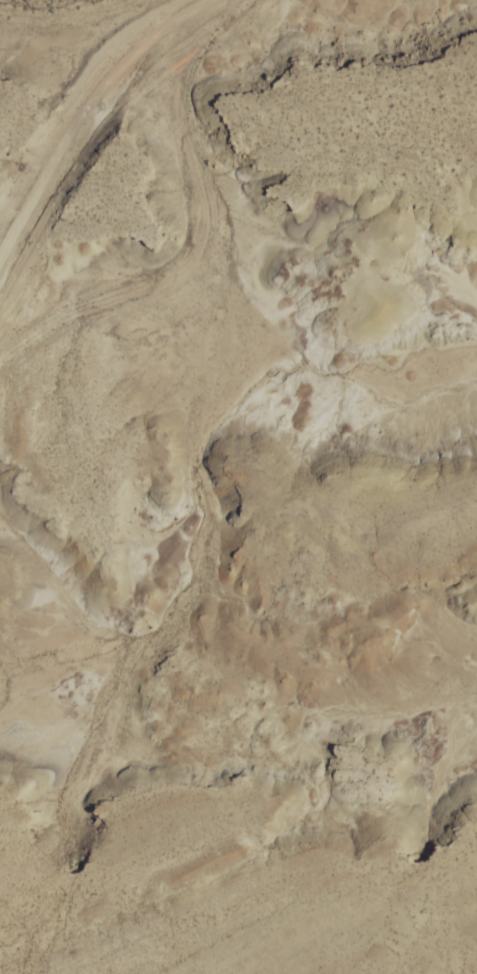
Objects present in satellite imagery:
road: (91, 114)

